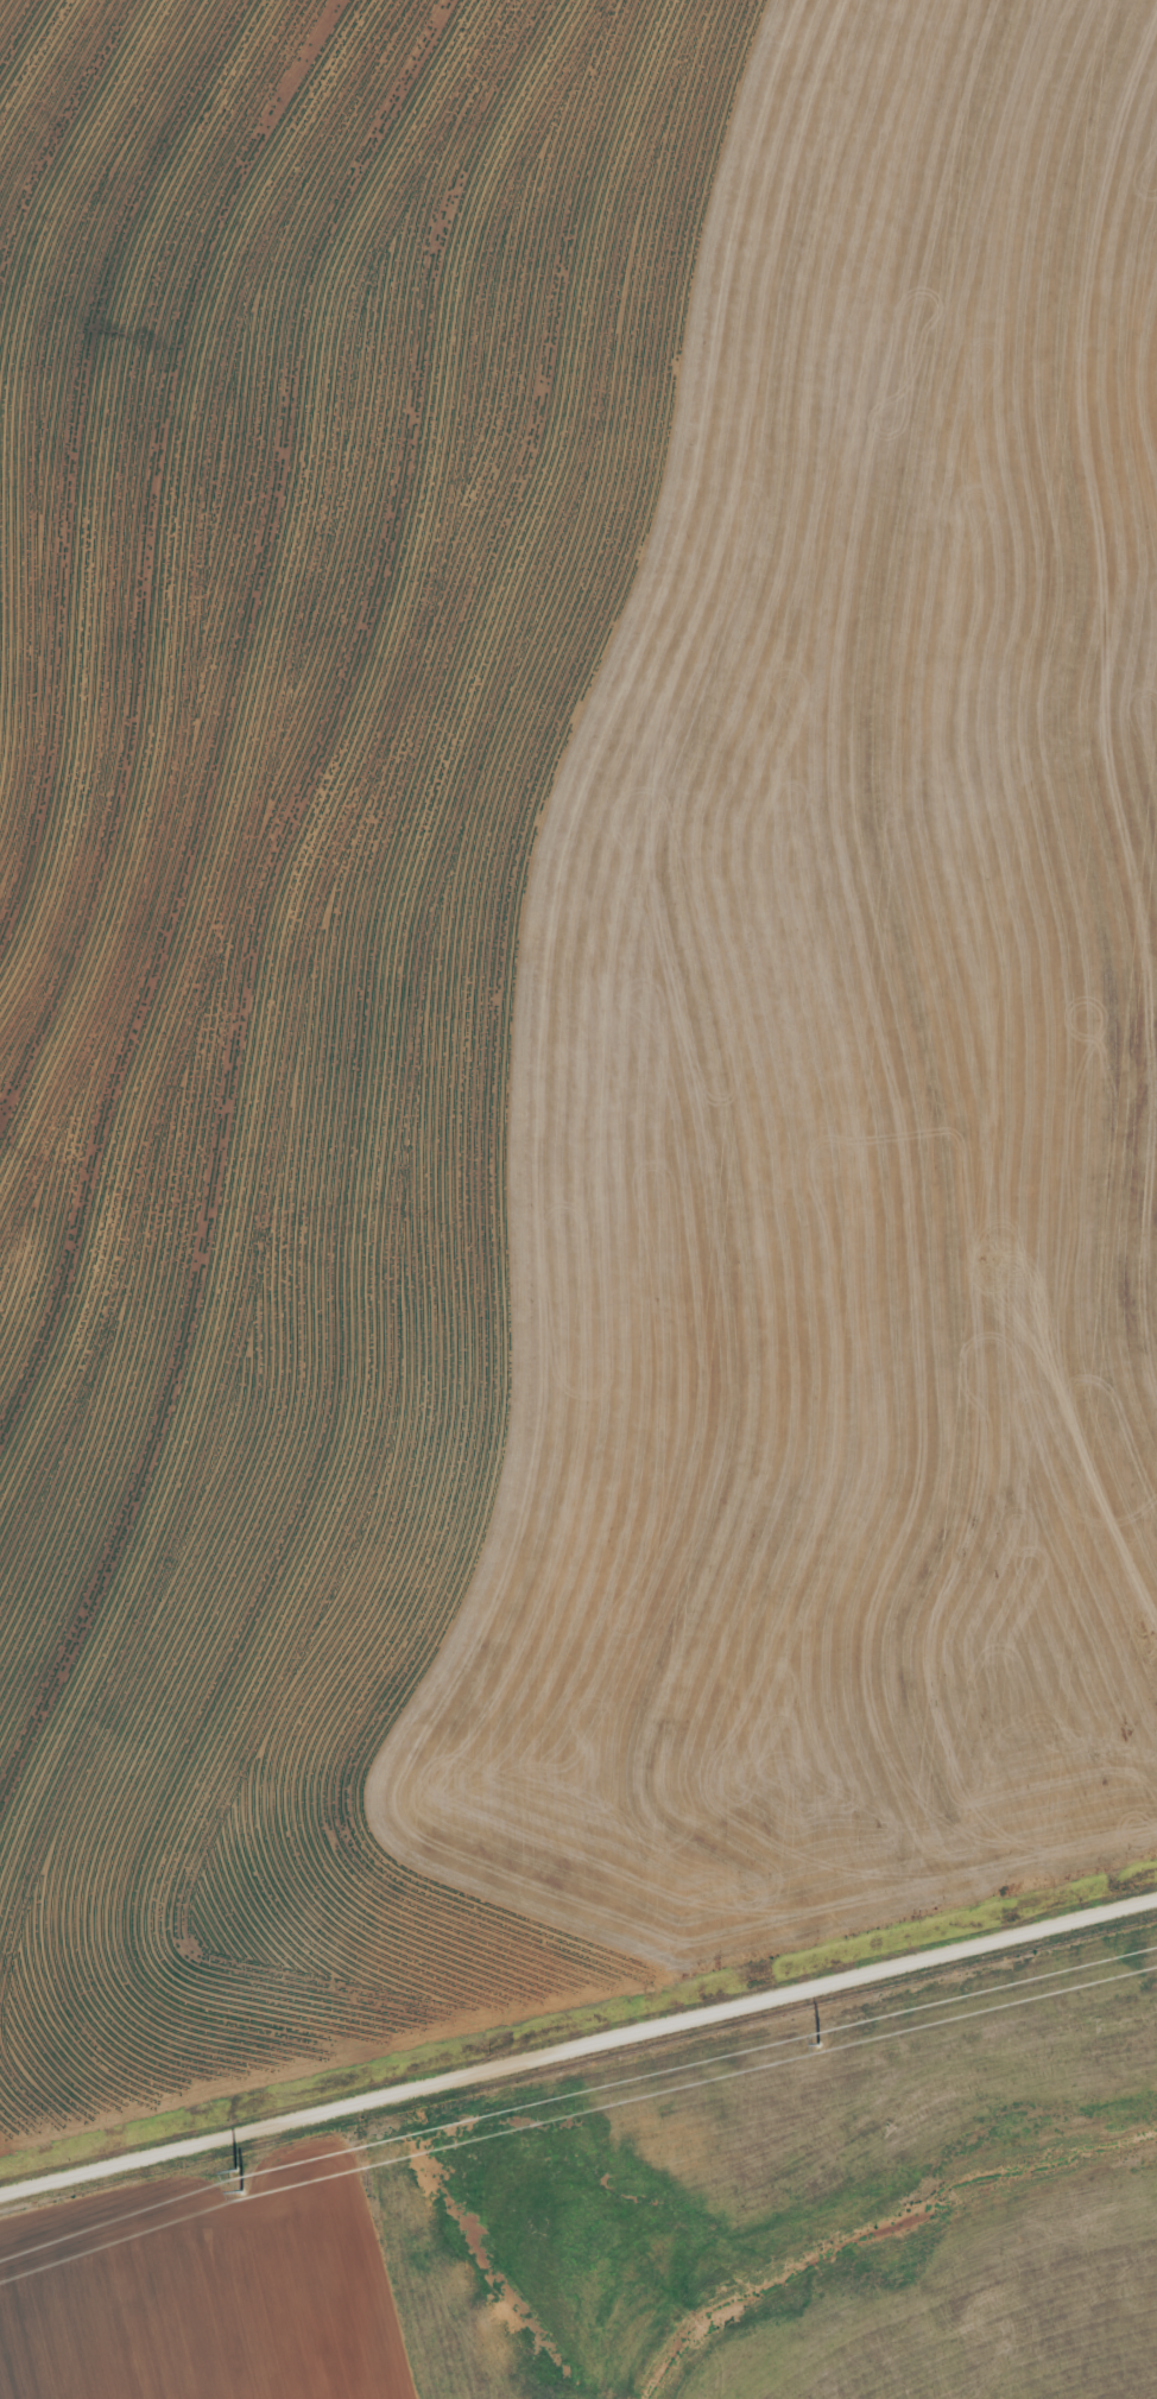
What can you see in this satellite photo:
road: (578, 2040)
power tower: (820, 2044)
power tower: (240, 2180)

